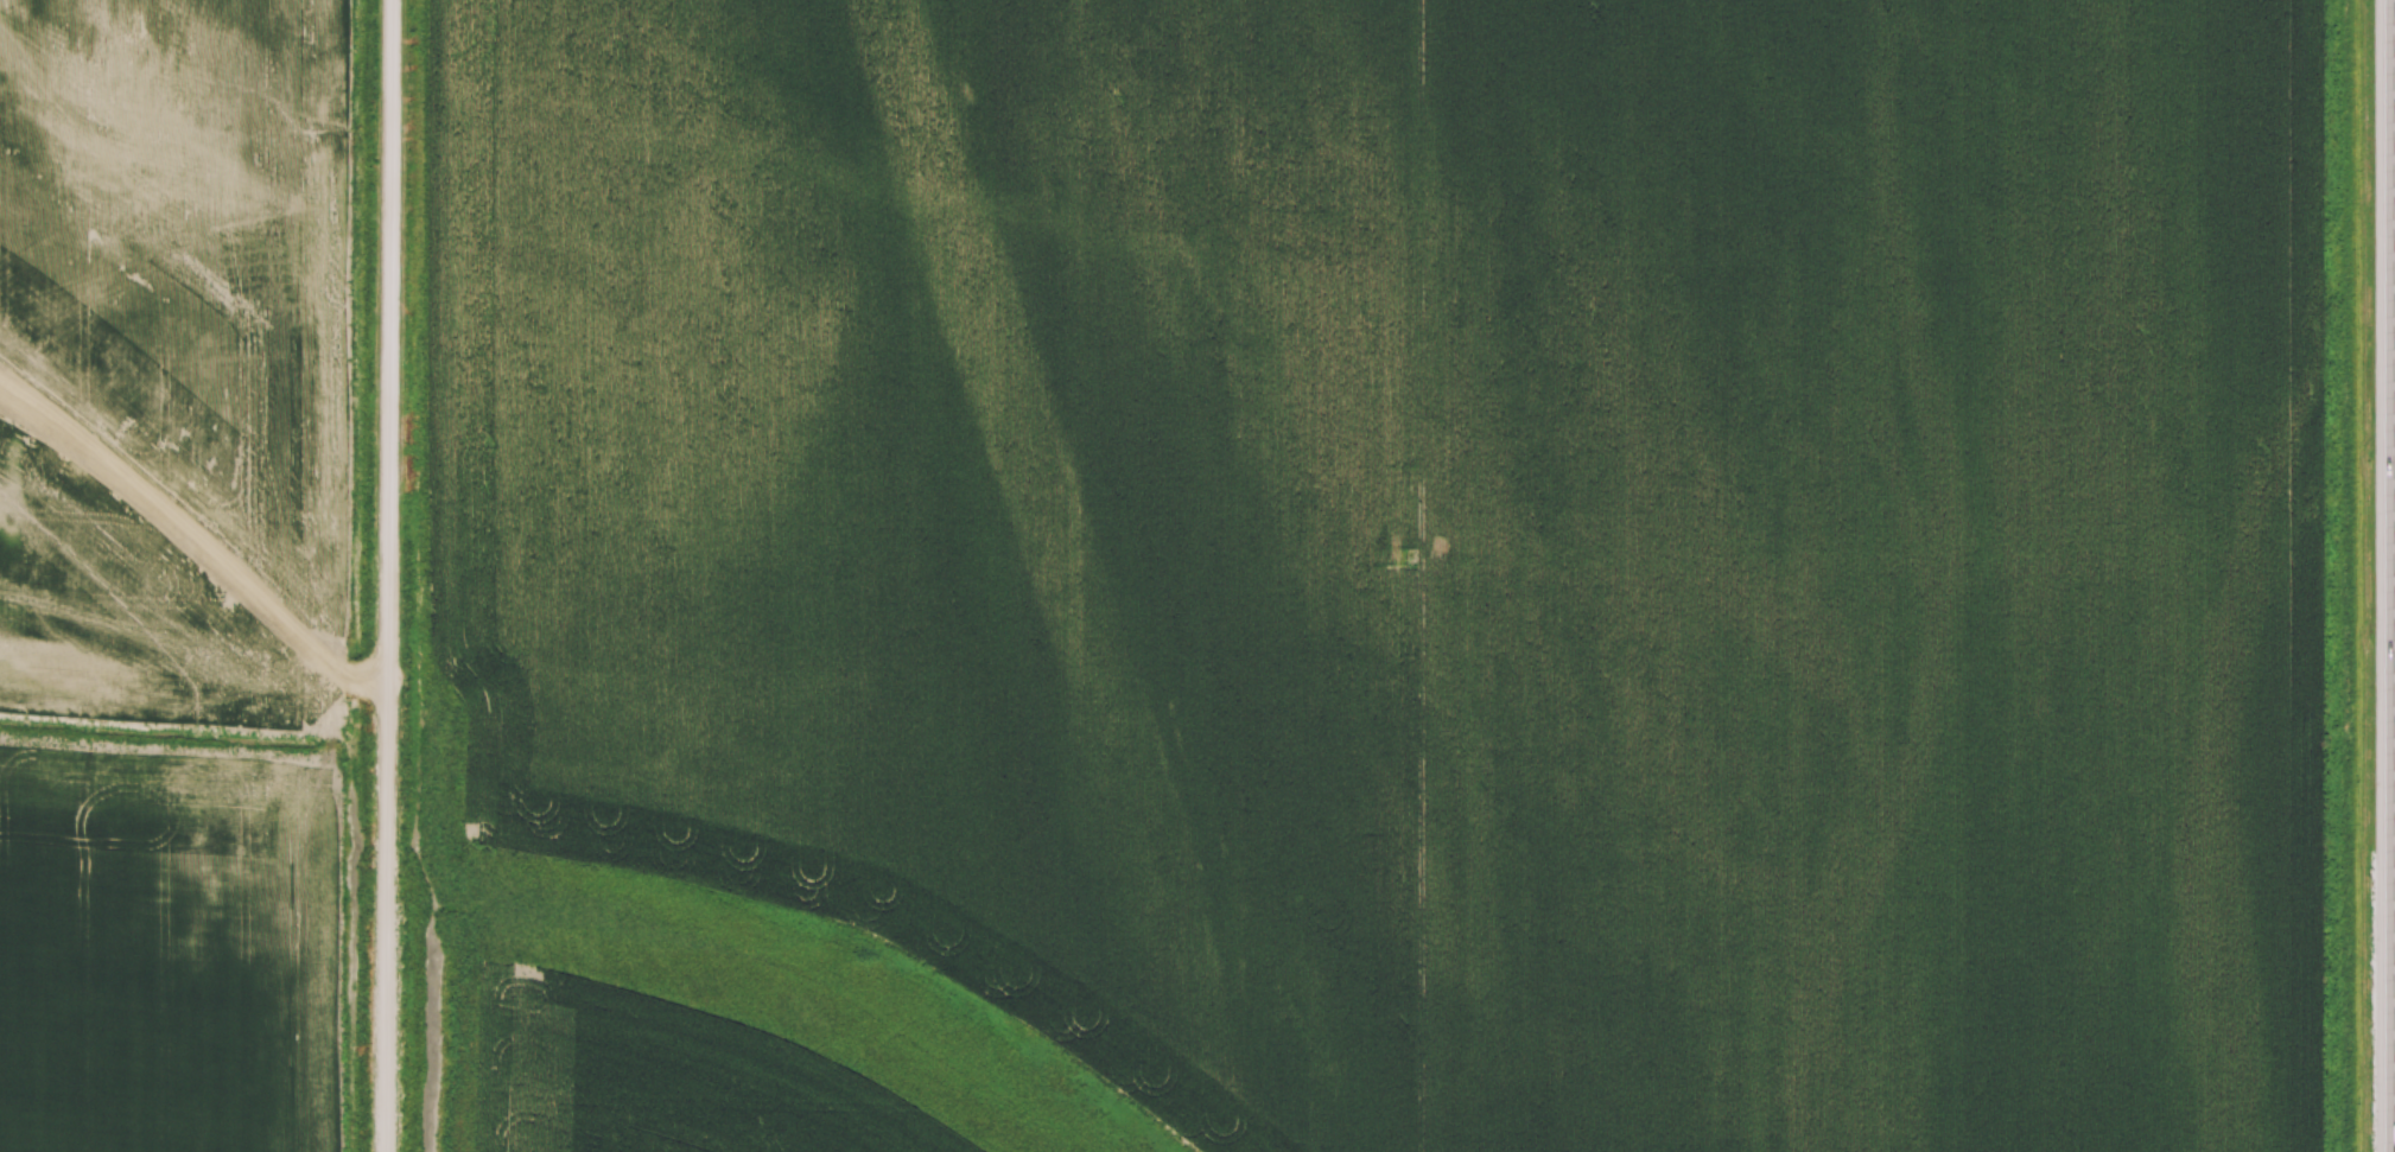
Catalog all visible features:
road: (2394, 397)
road: (387, 575)
crop: (1357, 575)

